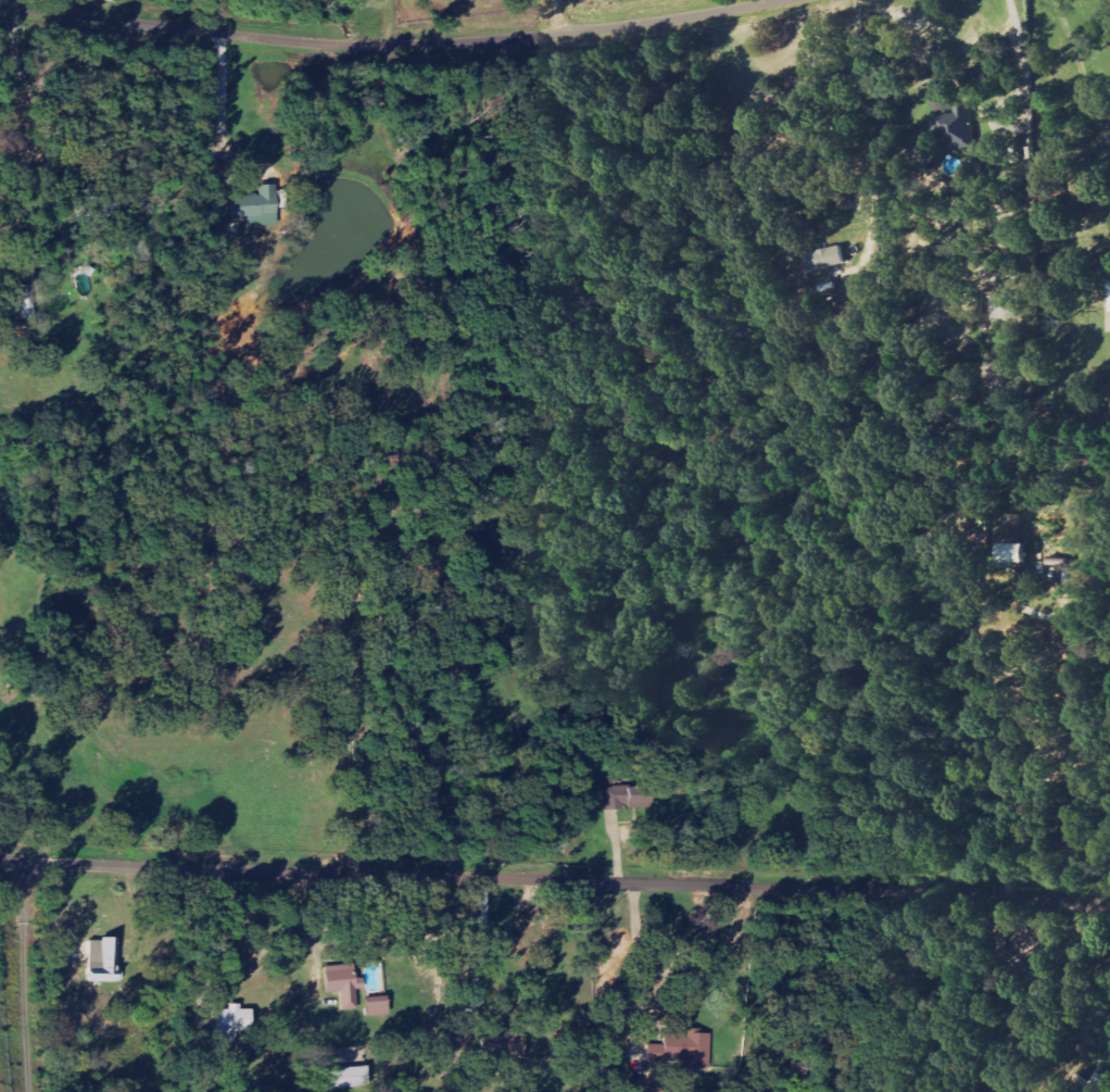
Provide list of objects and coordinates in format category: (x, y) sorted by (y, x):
road: (391, 42)
road: (1027, 63)
road: (1084, 66)
road: (220, 109)
building: (955, 127)
road: (870, 138)
building: (257, 206)
building: (99, 211)
building: (823, 259)
building: (1109, 296)
building: (1004, 307)
building: (1009, 553)
building: (627, 798)
road: (555, 870)
building: (341, 984)
building: (373, 1006)
building: (235, 1019)
building: (497, 1047)
building: (683, 1050)
building: (353, 1077)
building: (472, 1080)
building: (1083, 1084)

